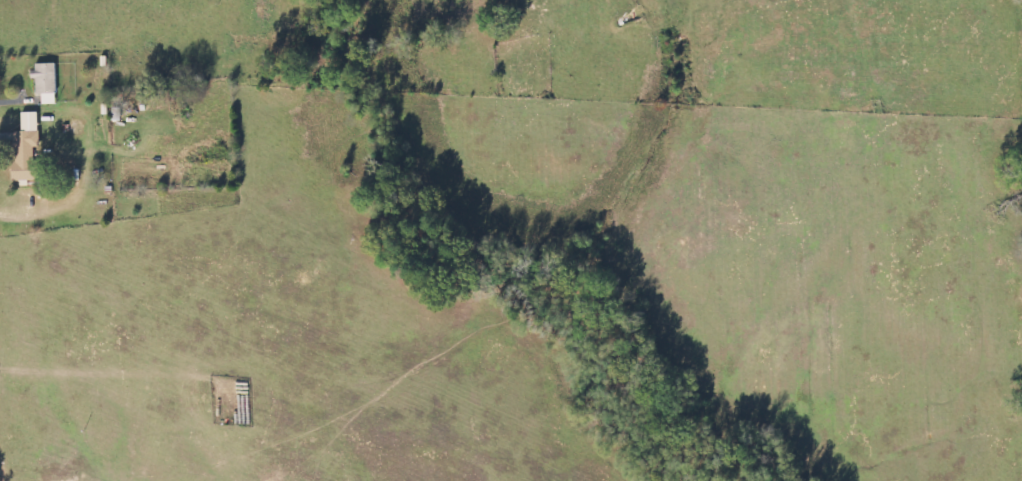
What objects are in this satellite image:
building: (47, 83)
building: (28, 150)

